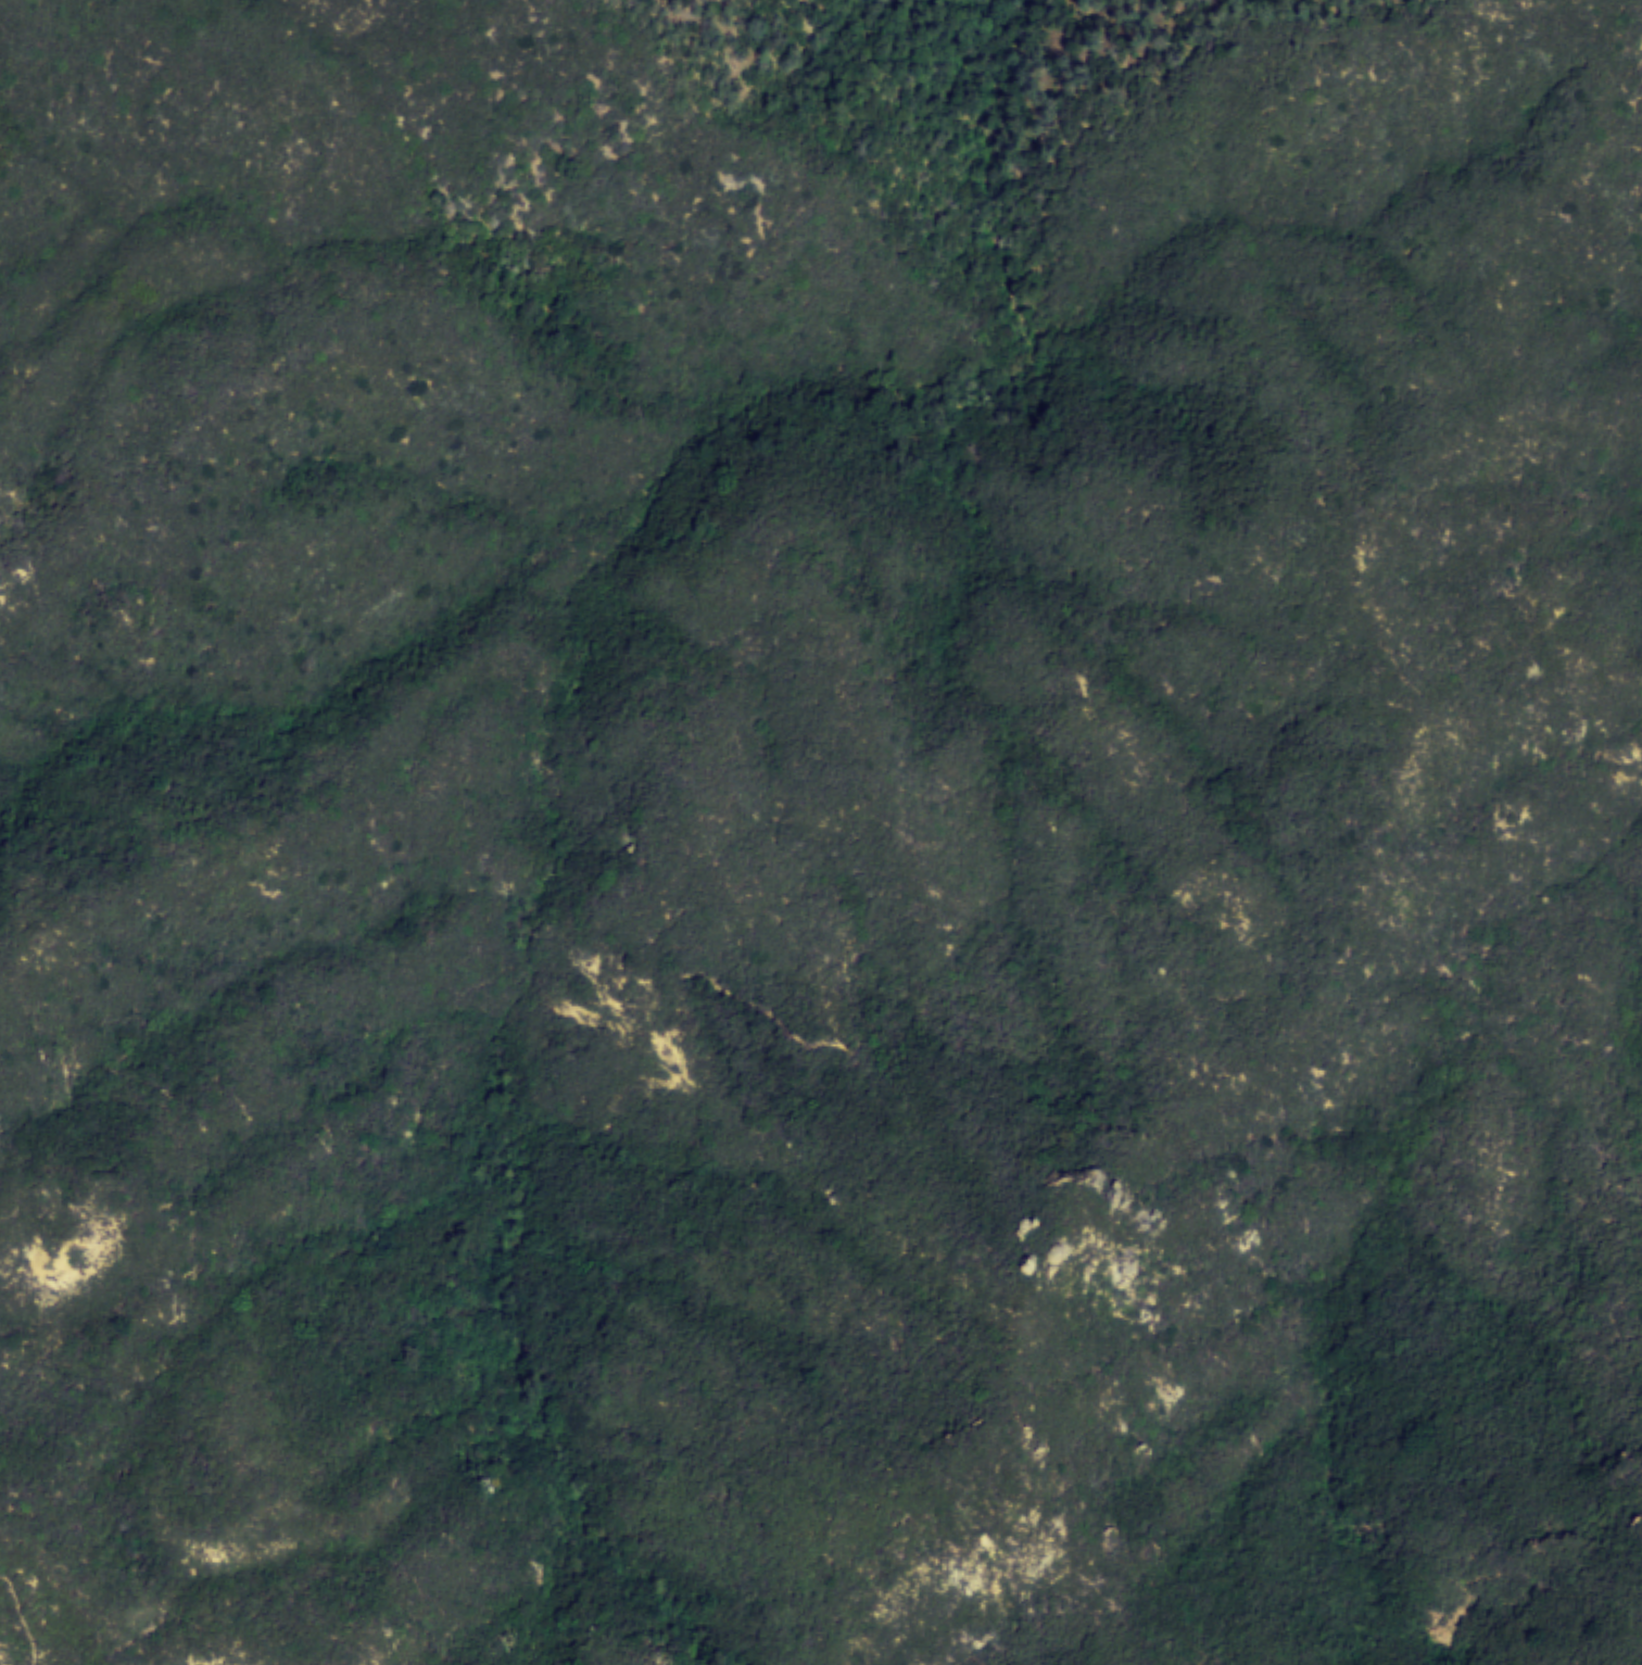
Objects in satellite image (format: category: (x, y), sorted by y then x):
road: (21, 1619)

